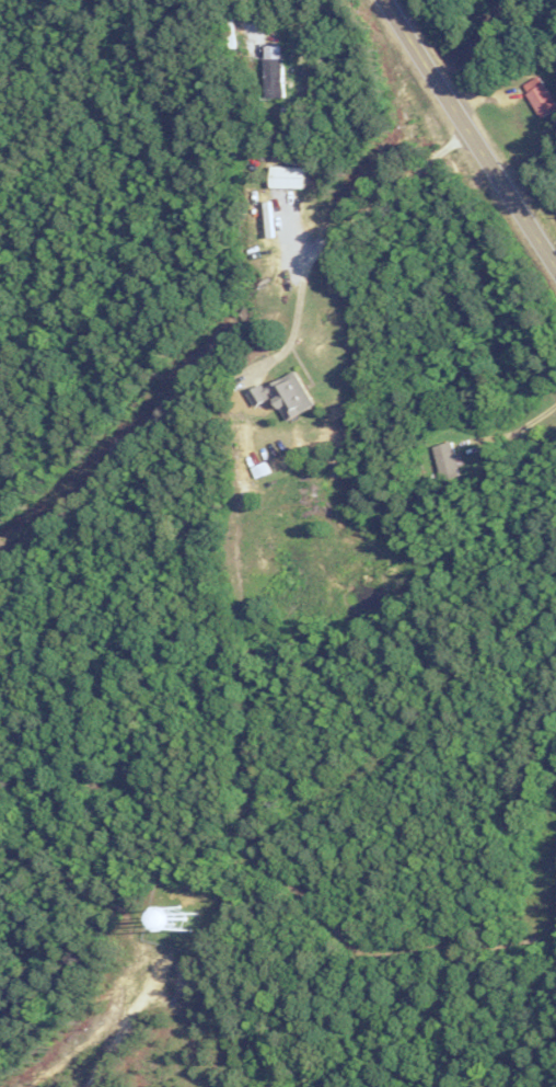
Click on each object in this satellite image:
road: (255, 30)
building: (274, 72)
building: (541, 96)
road: (470, 137)
building: (288, 175)
road: (324, 240)
building: (286, 392)
road: (509, 431)
building: (444, 460)
building: (422, 494)
park: (374, 547)
road: (126, 1016)

